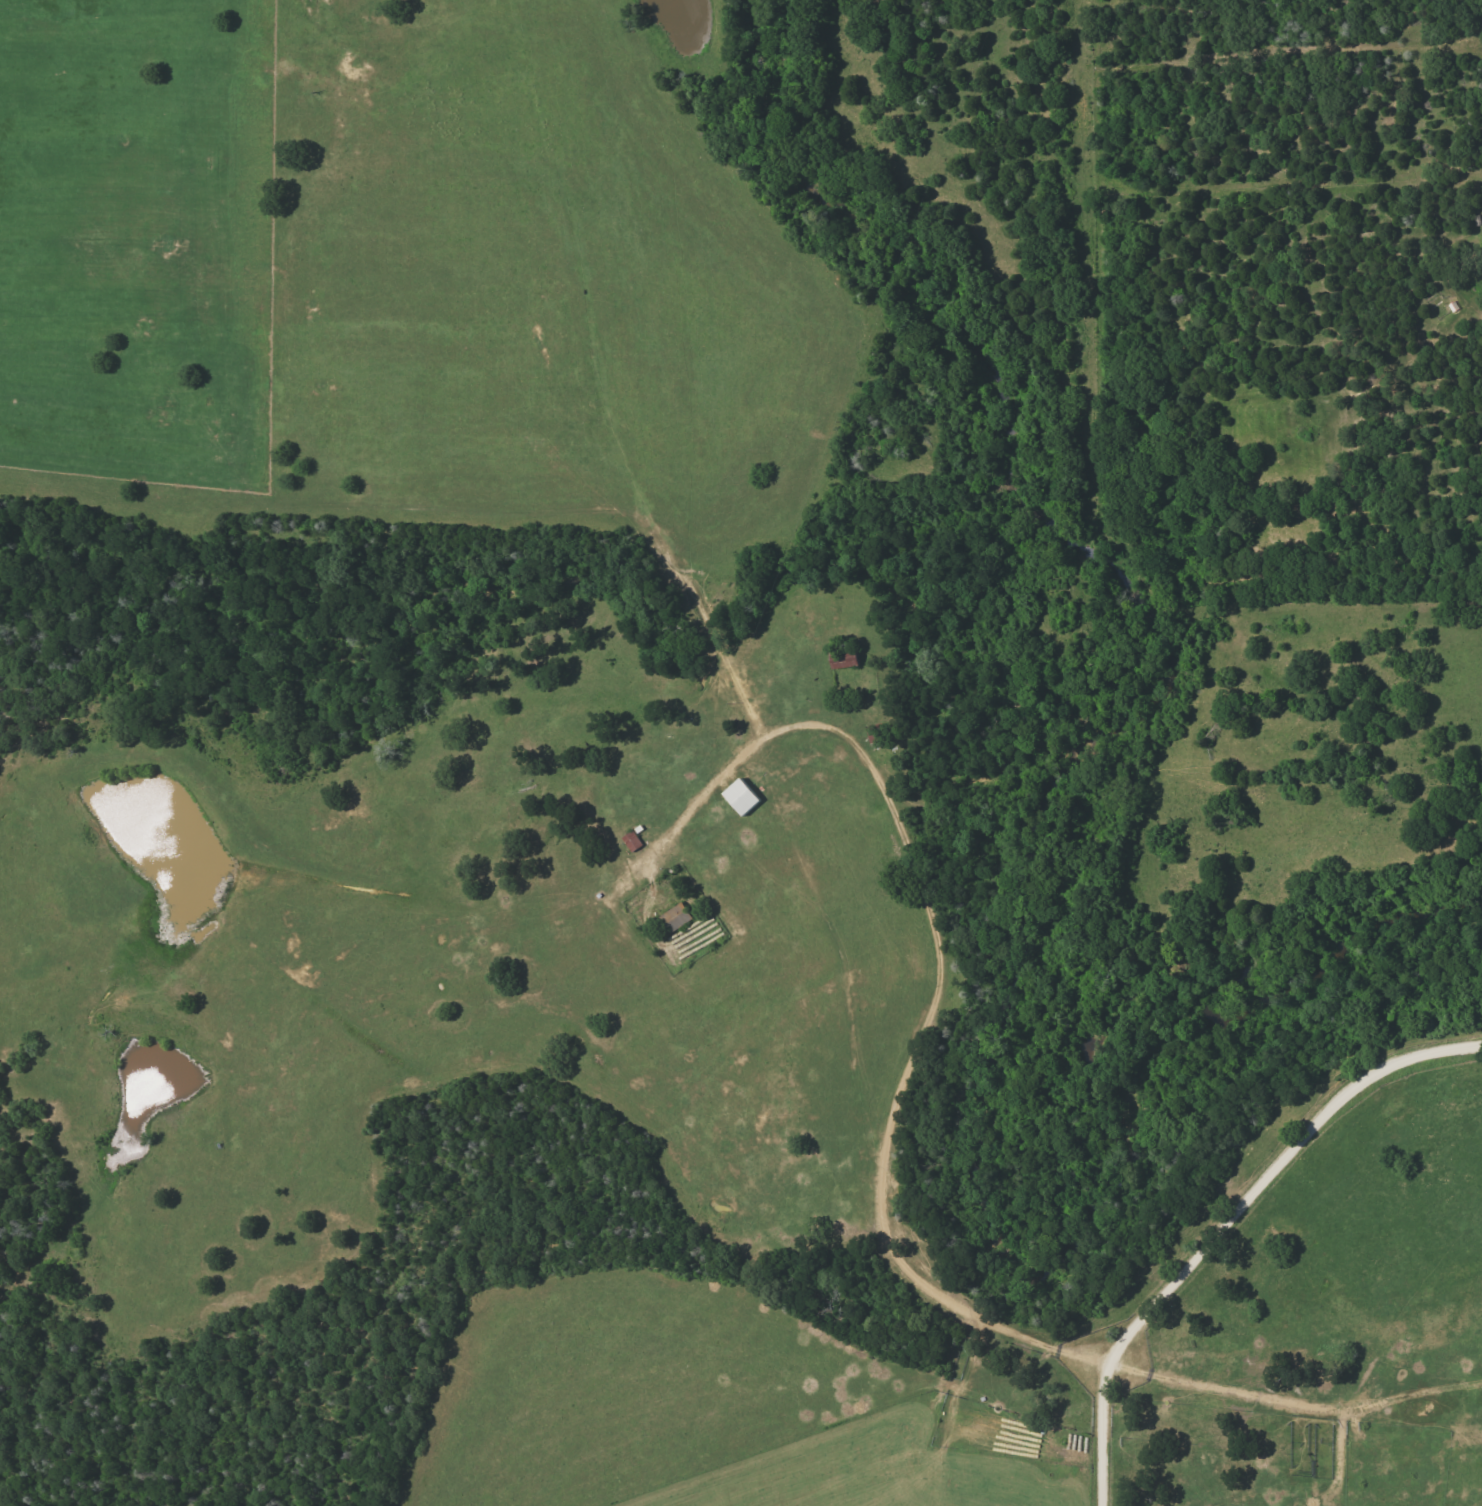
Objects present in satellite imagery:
building: (737, 797)
building: (674, 917)
road: (897, 1163)
road: (1226, 1227)

